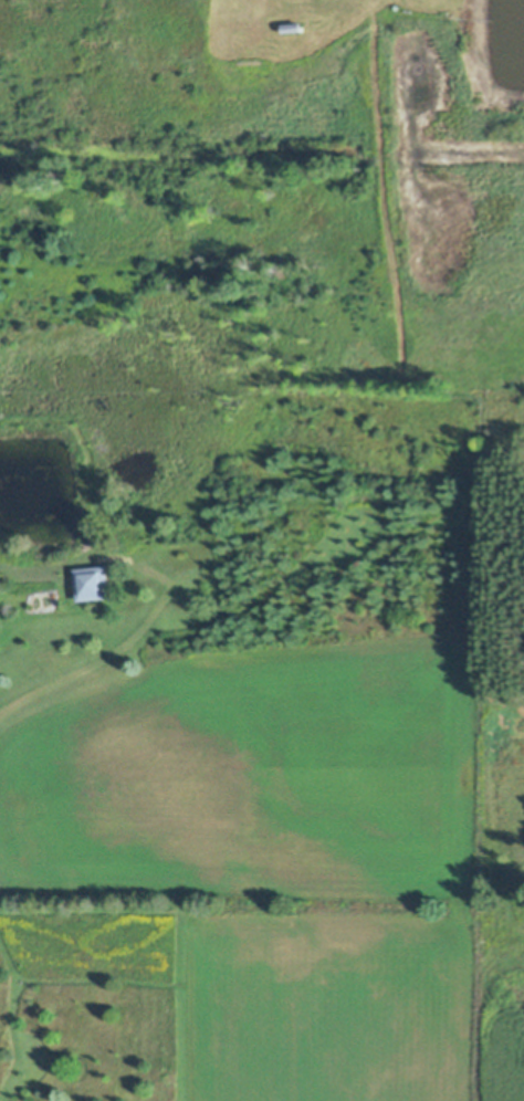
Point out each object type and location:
building: (91, 584)

